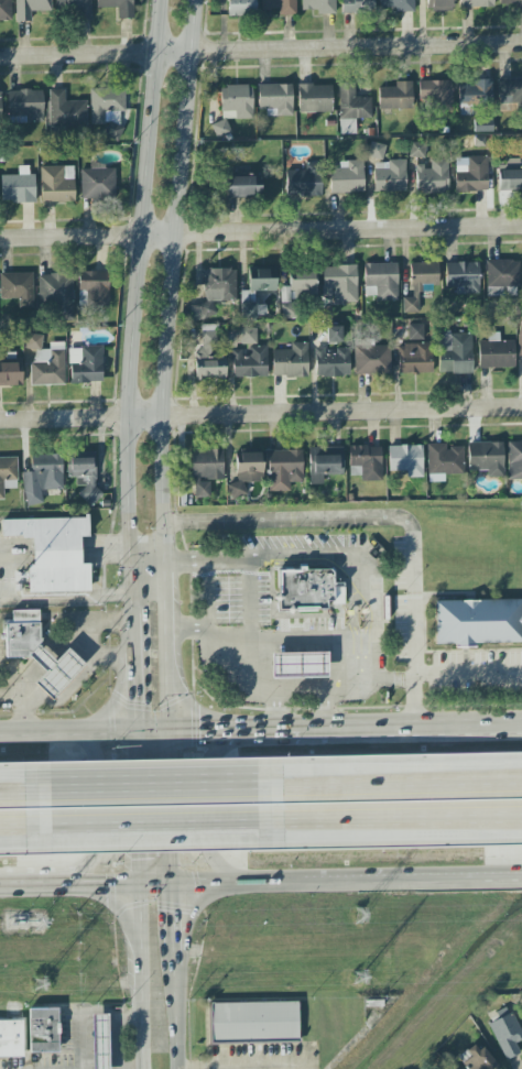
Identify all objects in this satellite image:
building: (476, 3)
building: (510, 3)
building: (439, 4)
building: (280, 6)
building: (398, 6)
building: (118, 7)
building: (319, 7)
building: (357, 7)
building: (30, 8)
building: (76, 8)
building: (242, 8)
building: (6, 11)
road: (260, 54)
building: (510, 91)
building: (436, 95)
building: (474, 95)
building: (395, 97)
building: (314, 98)
building: (275, 99)
building: (236, 102)
building: (25, 106)
building: (0, 107)
building: (351, 108)
building: (66, 109)
building: (376, 151)
building: (471, 174)
building: (389, 176)
building: (432, 176)
building: (347, 177)
building: (304, 181)
building: (510, 181)
building: (97, 183)
building: (56, 184)
building: (18, 186)
building: (242, 187)
road: (261, 231)
building: (502, 274)
building: (463, 277)
building: (381, 281)
building: (303, 282)
building: (339, 283)
building: (420, 284)
building: (15, 285)
building: (94, 288)
building: (215, 293)
building: (57, 295)
building: (248, 296)
road: (137, 301)
building: (287, 310)
building: (415, 331)
building: (334, 334)
building: (248, 336)
building: (520, 340)
building: (34, 341)
building: (496, 352)
building: (208, 353)
building: (455, 353)
building: (414, 359)
building: (372, 360)
building: (291, 361)
building: (250, 362)
building: (333, 362)
building: (85, 364)
building: (48, 366)
road: (163, 366)
building: (10, 374)
road: (260, 418)
building: (486, 458)
building: (406, 460)
building: (514, 460)
building: (444, 461)
building: (366, 462)
building: (325, 463)
building: (284, 469)
building: (206, 470)
building: (246, 472)
building: (8, 474)
building: (84, 474)
building: (42, 478)
road: (389, 517)
building: (53, 553)
road: (345, 556)
building: (308, 589)
road: (150, 591)
road: (67, 596)
road: (251, 603)
road: (25, 615)
road: (62, 615)
road: (352, 615)
road: (6, 617)
building: (478, 622)
road: (137, 625)
road: (187, 626)
road: (88, 632)
road: (293, 648)
building: (39, 653)
building: (298, 665)
road: (469, 668)
road: (243, 675)
road: (139, 690)
road: (57, 702)
traffic signals: (140, 702)
road: (325, 705)
road: (276, 707)
road: (24, 719)
road: (426, 726)
road: (290, 730)
road: (207, 732)
road: (153, 733)
traffic signals: (199, 733)
road: (69, 734)
traffic signals: (167, 759)
road: (393, 792)
road: (146, 795)
road: (14, 797)
road: (209, 806)
road: (102, 808)
road: (140, 808)
road: (167, 808)
road: (394, 815)
road: (150, 820)
road: (17, 822)
traffic signals: (141, 858)
road: (346, 879)
road: (34, 883)
road: (102, 883)
traffic signals: (105, 883)
road: (156, 883)
road: (2, 884)
traffic signals: (172, 913)
road: (172, 916)
power tower: (357, 916)
power tower: (36, 919)
road: (144, 975)
power tower: (358, 977)
power tower: (39, 980)
road: (99, 1008)
road: (176, 1008)
road: (130, 1012)
building: (253, 1023)
building: (43, 1030)
building: (507, 1035)
building: (11, 1039)
building: (99, 1041)
building: (476, 1058)
road: (244, 1066)
building: (445, 1068)

